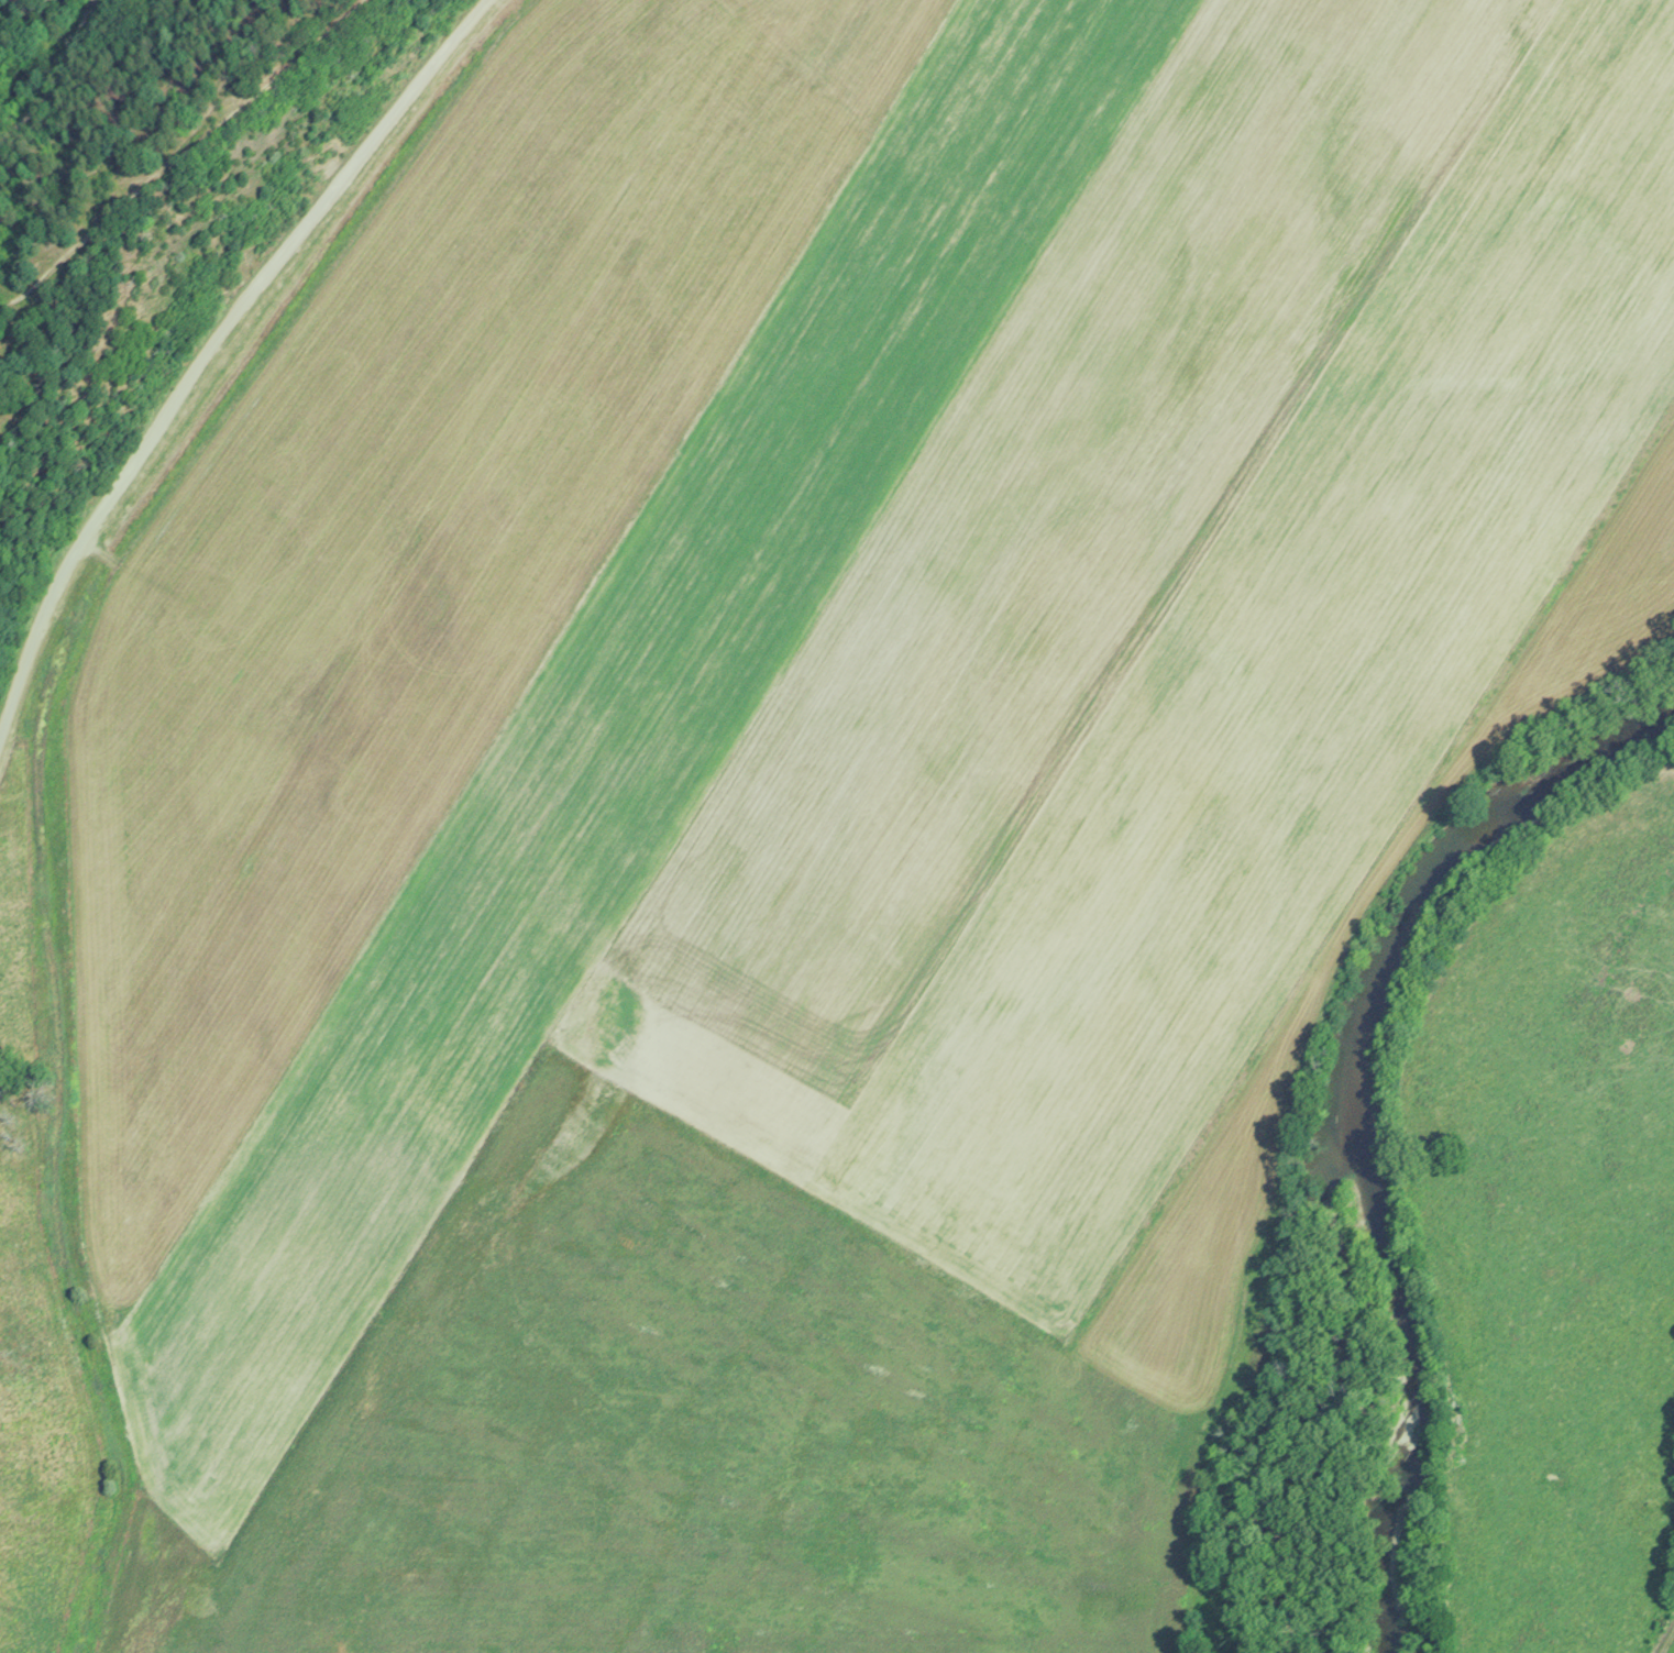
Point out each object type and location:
river: (1345, 1111)

